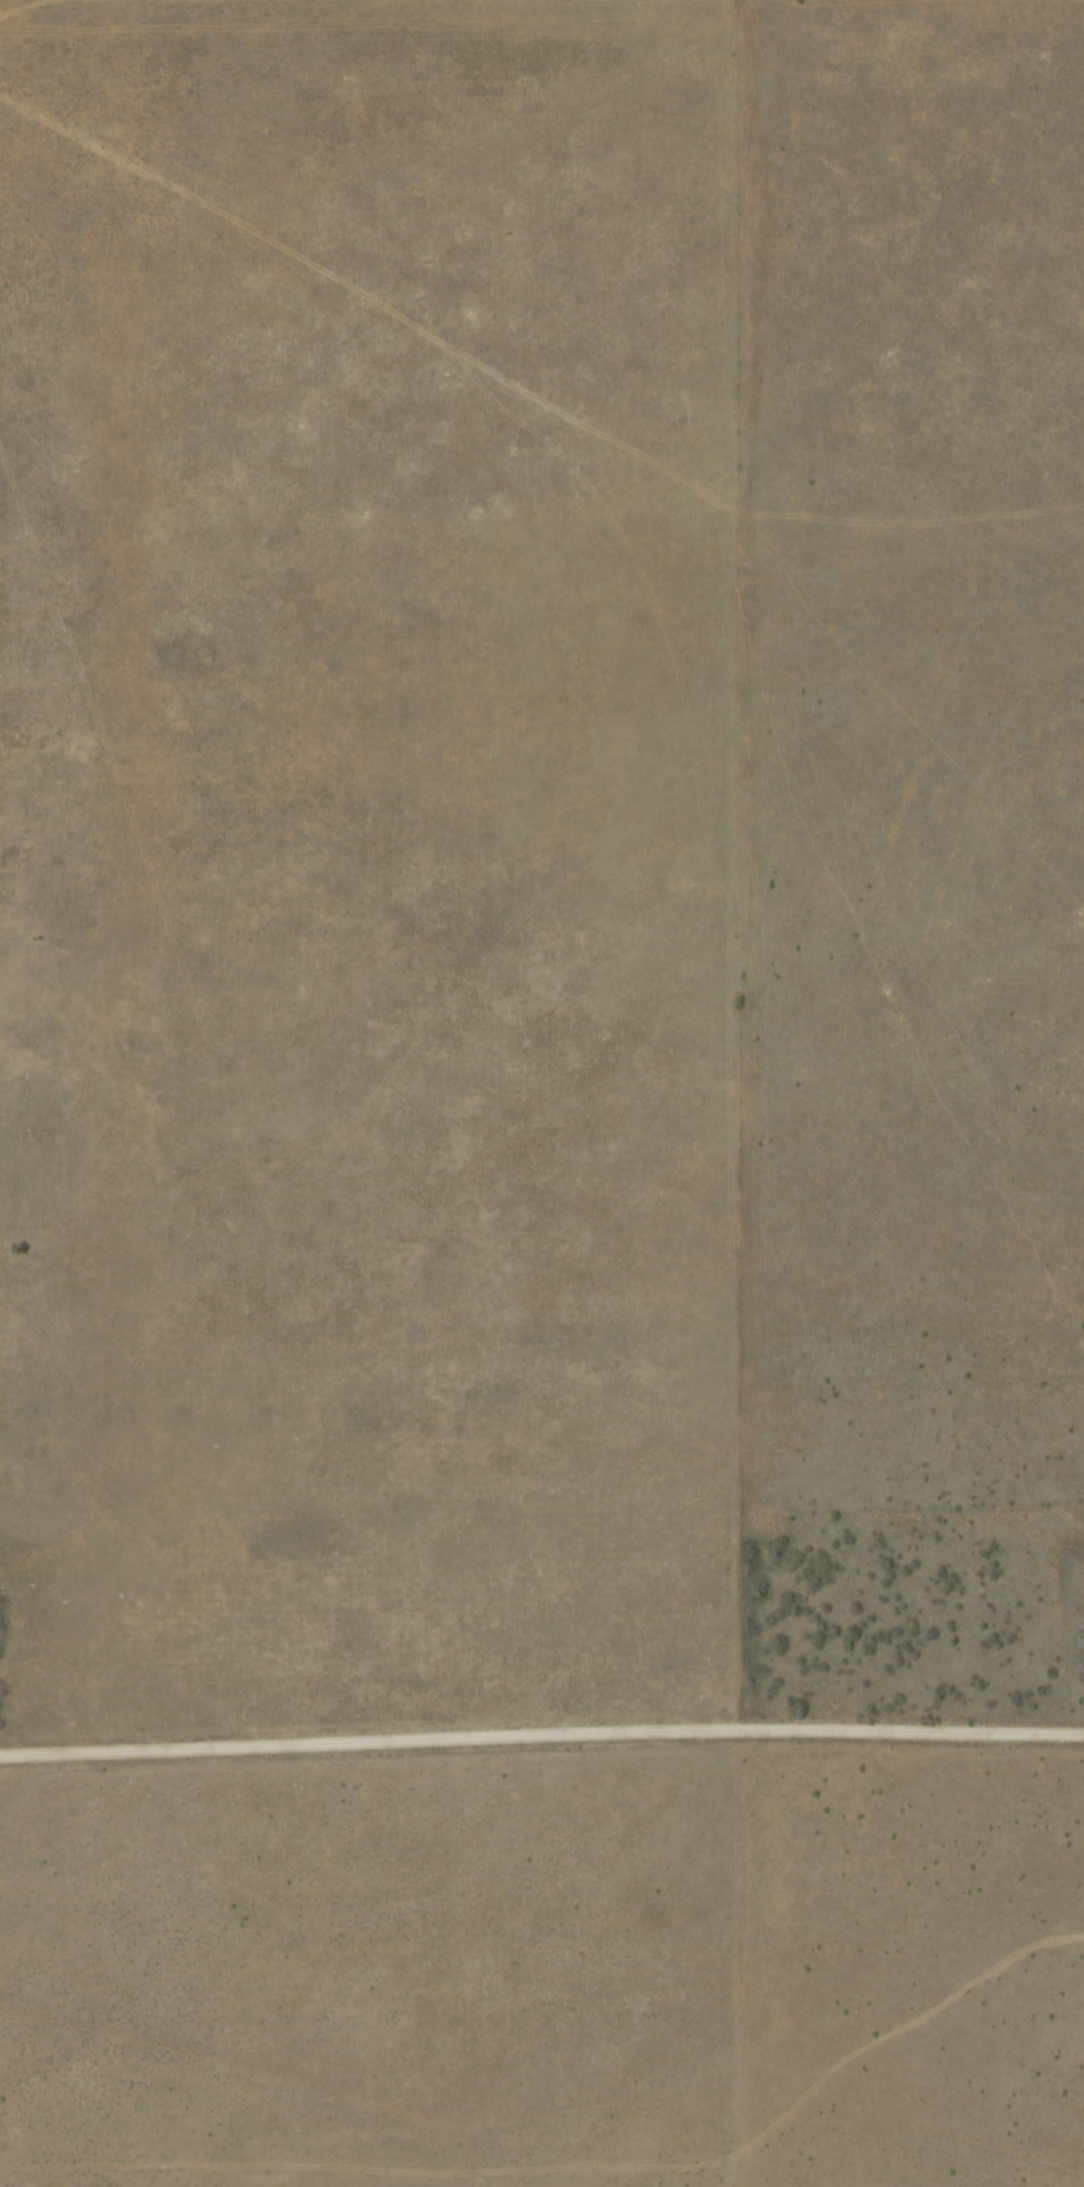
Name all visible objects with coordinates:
road: (541, 1745)

